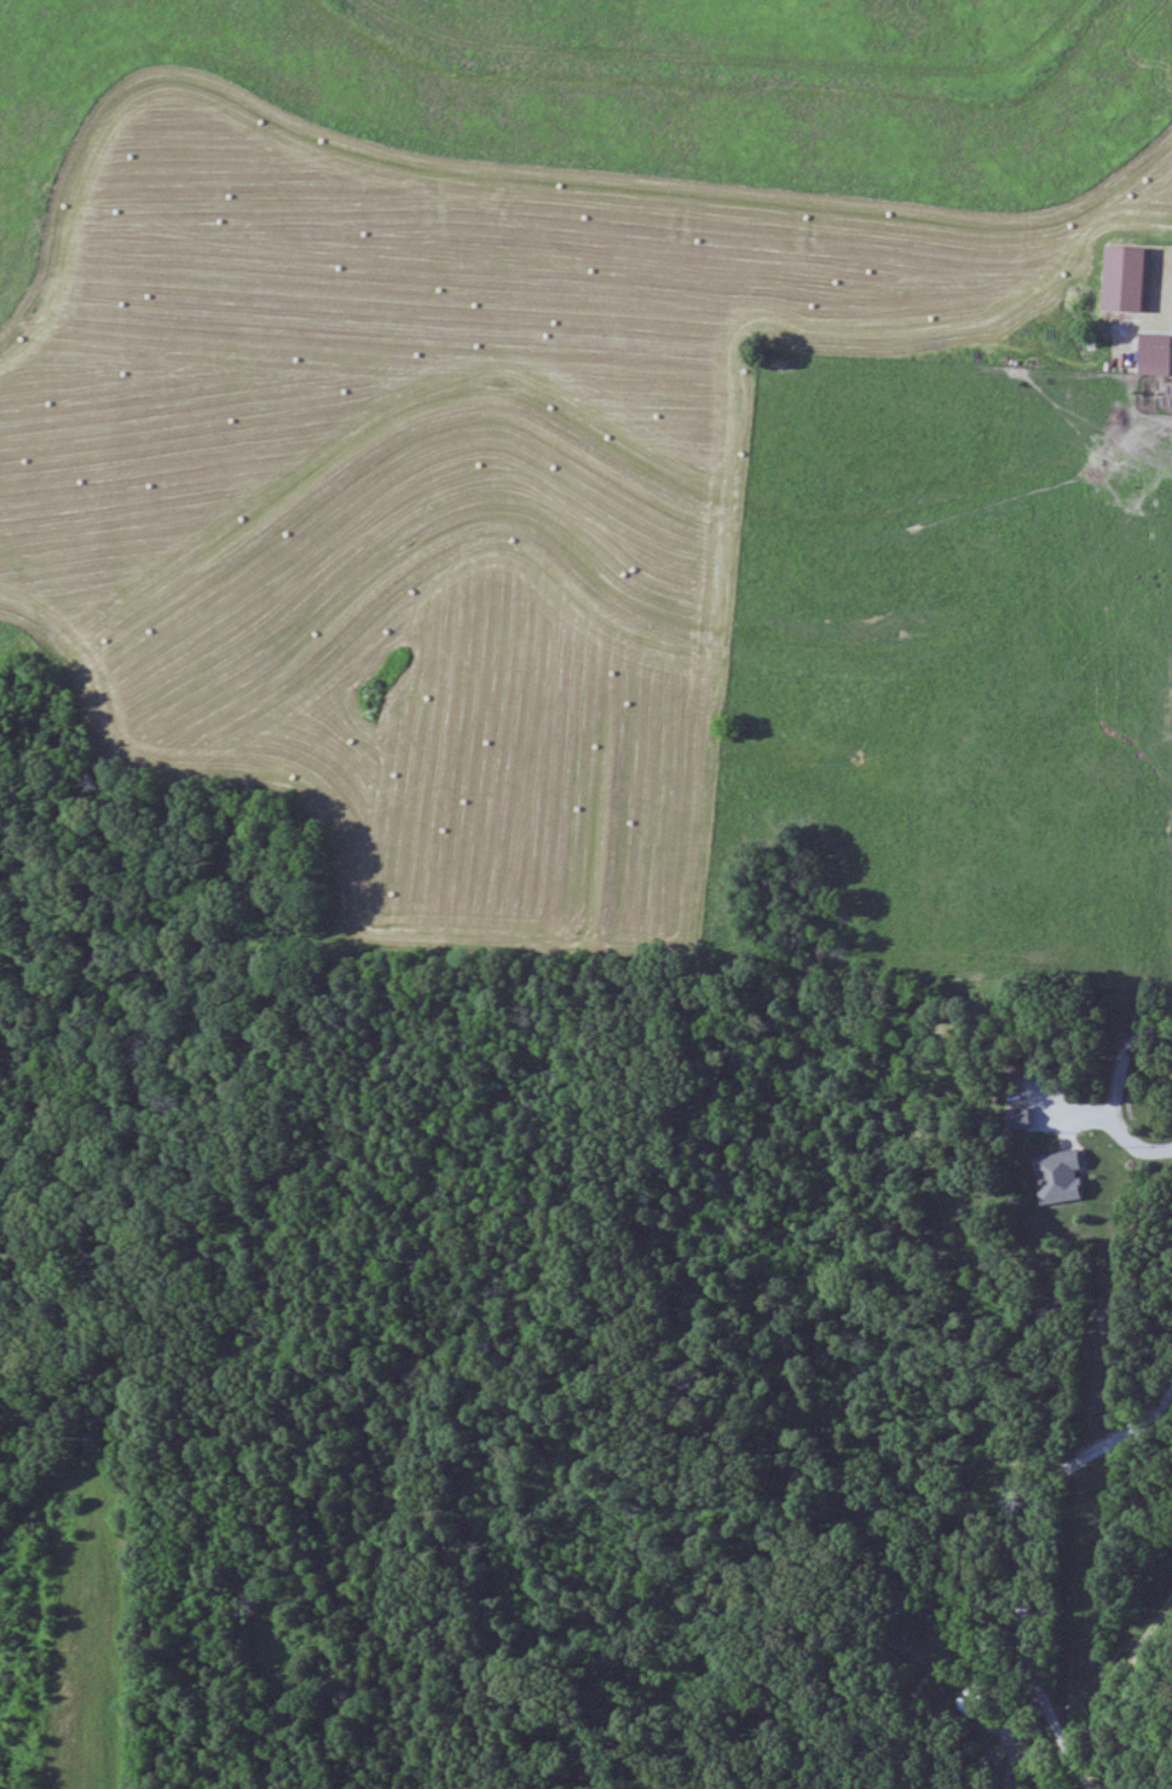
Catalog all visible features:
building: (1016, 1119)
building: (1056, 1177)
road: (1028, 1562)
road: (1121, 1690)

